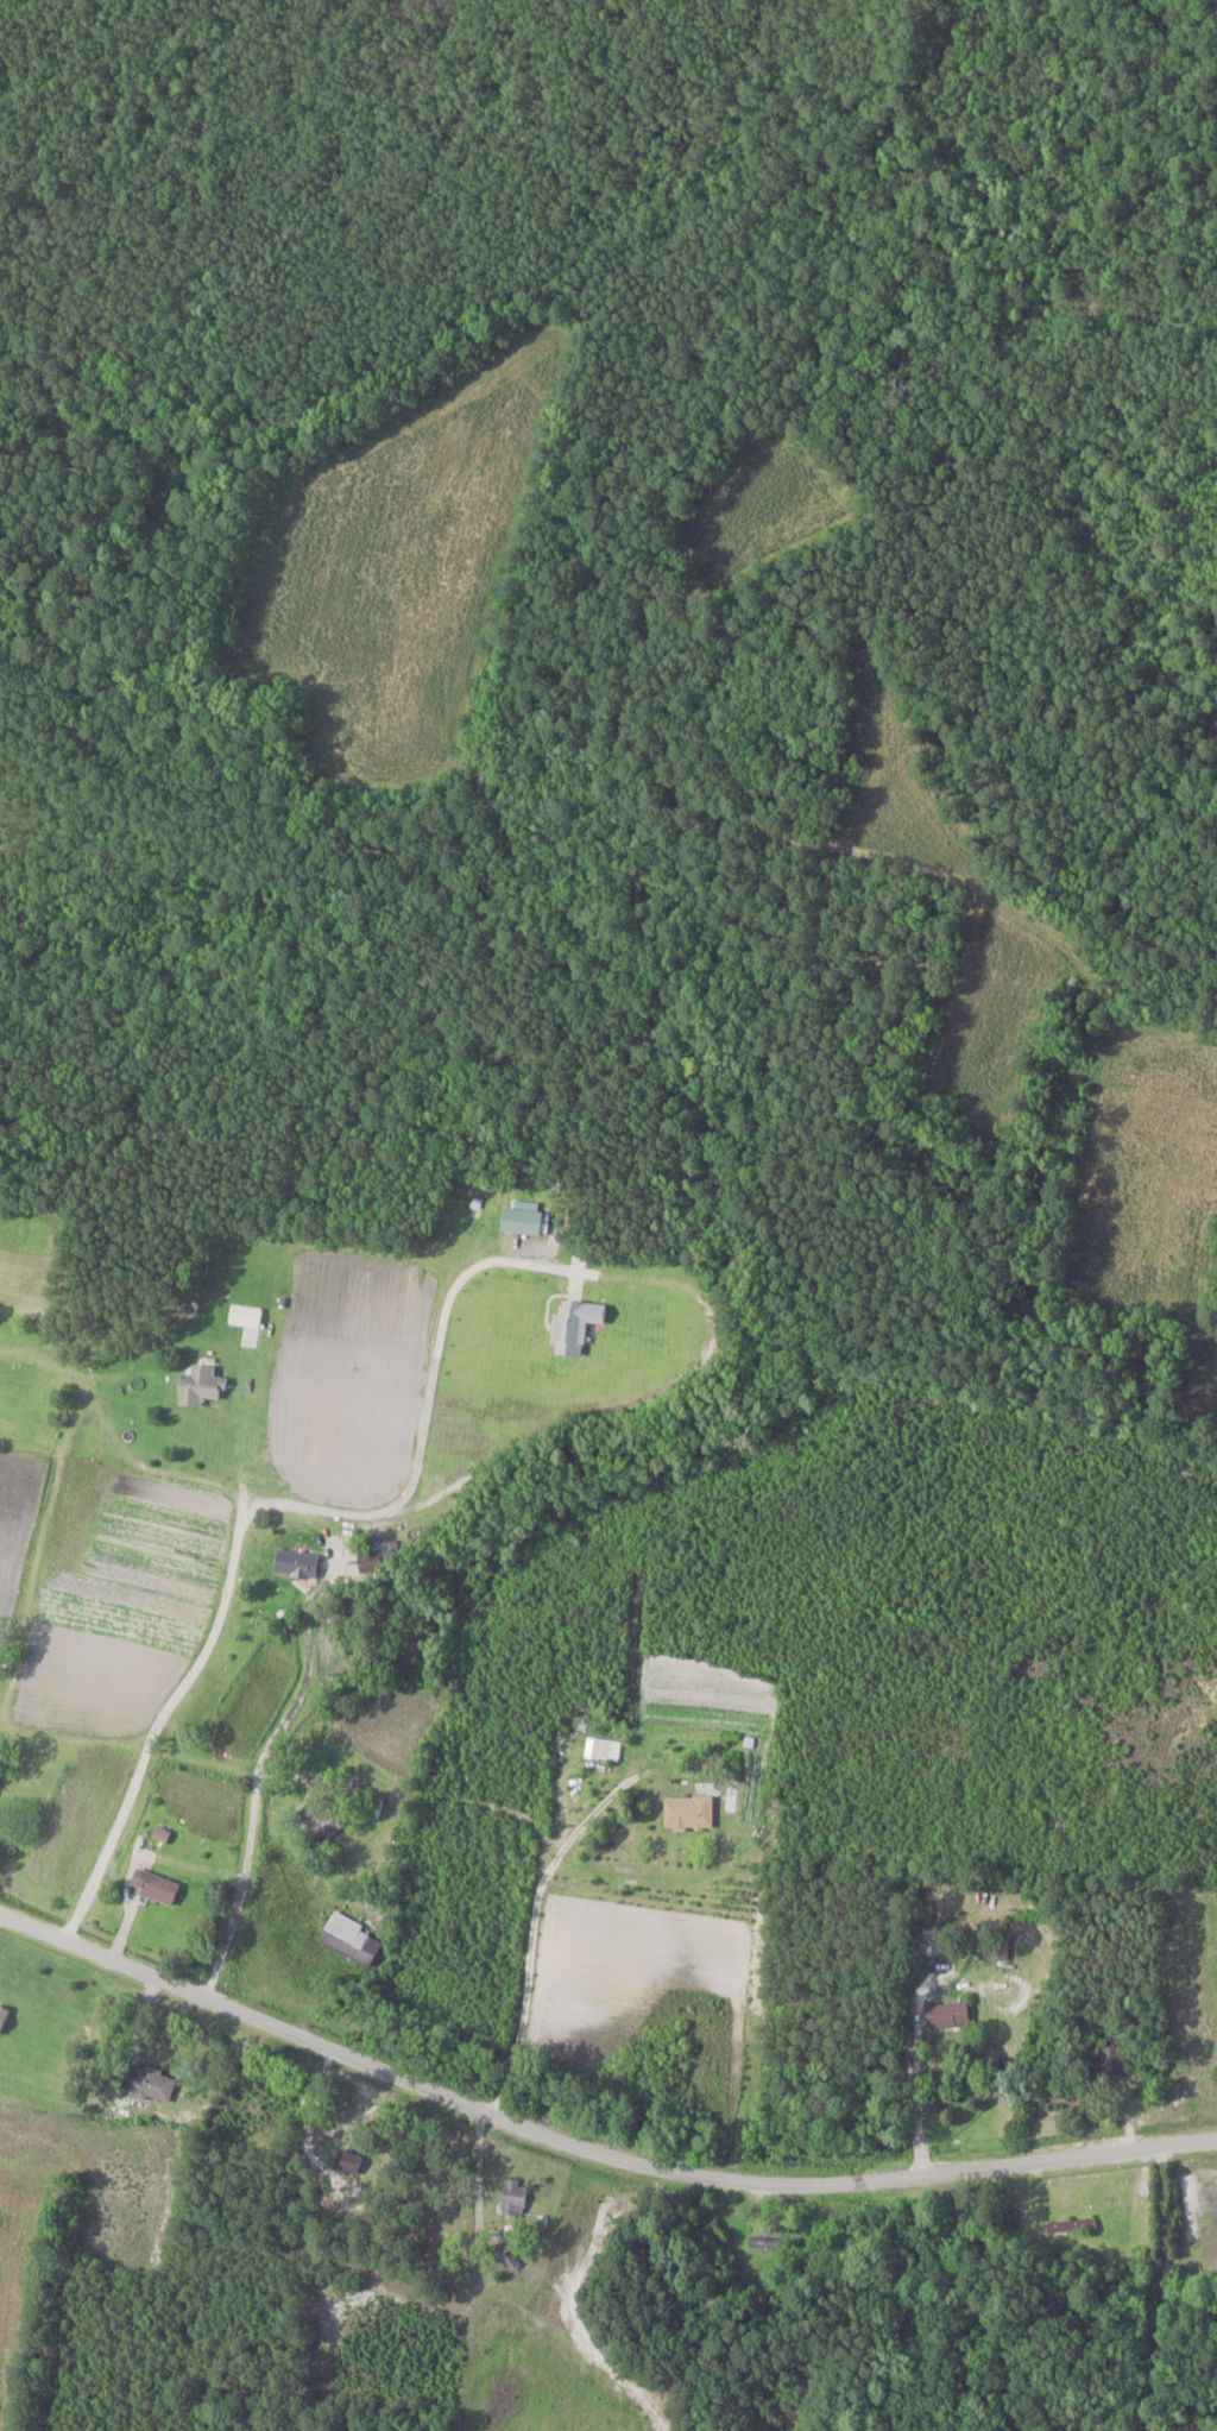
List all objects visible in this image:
building: (483, 1203)
building: (521, 1220)
building: (198, 1396)
road: (272, 1510)
building: (296, 1562)
building: (598, 1746)
road: (259, 1772)
building: (688, 1812)
building: (152, 1885)
road: (535, 1900)
building: (351, 1938)
building: (994, 1947)
building: (946, 2014)
building: (2, 2015)
building: (1114, 2061)
building: (149, 2083)
road: (916, 2097)
road: (588, 2150)
building: (512, 2196)
building: (1076, 2224)
road: (1190, 2228)
building: (773, 2242)

